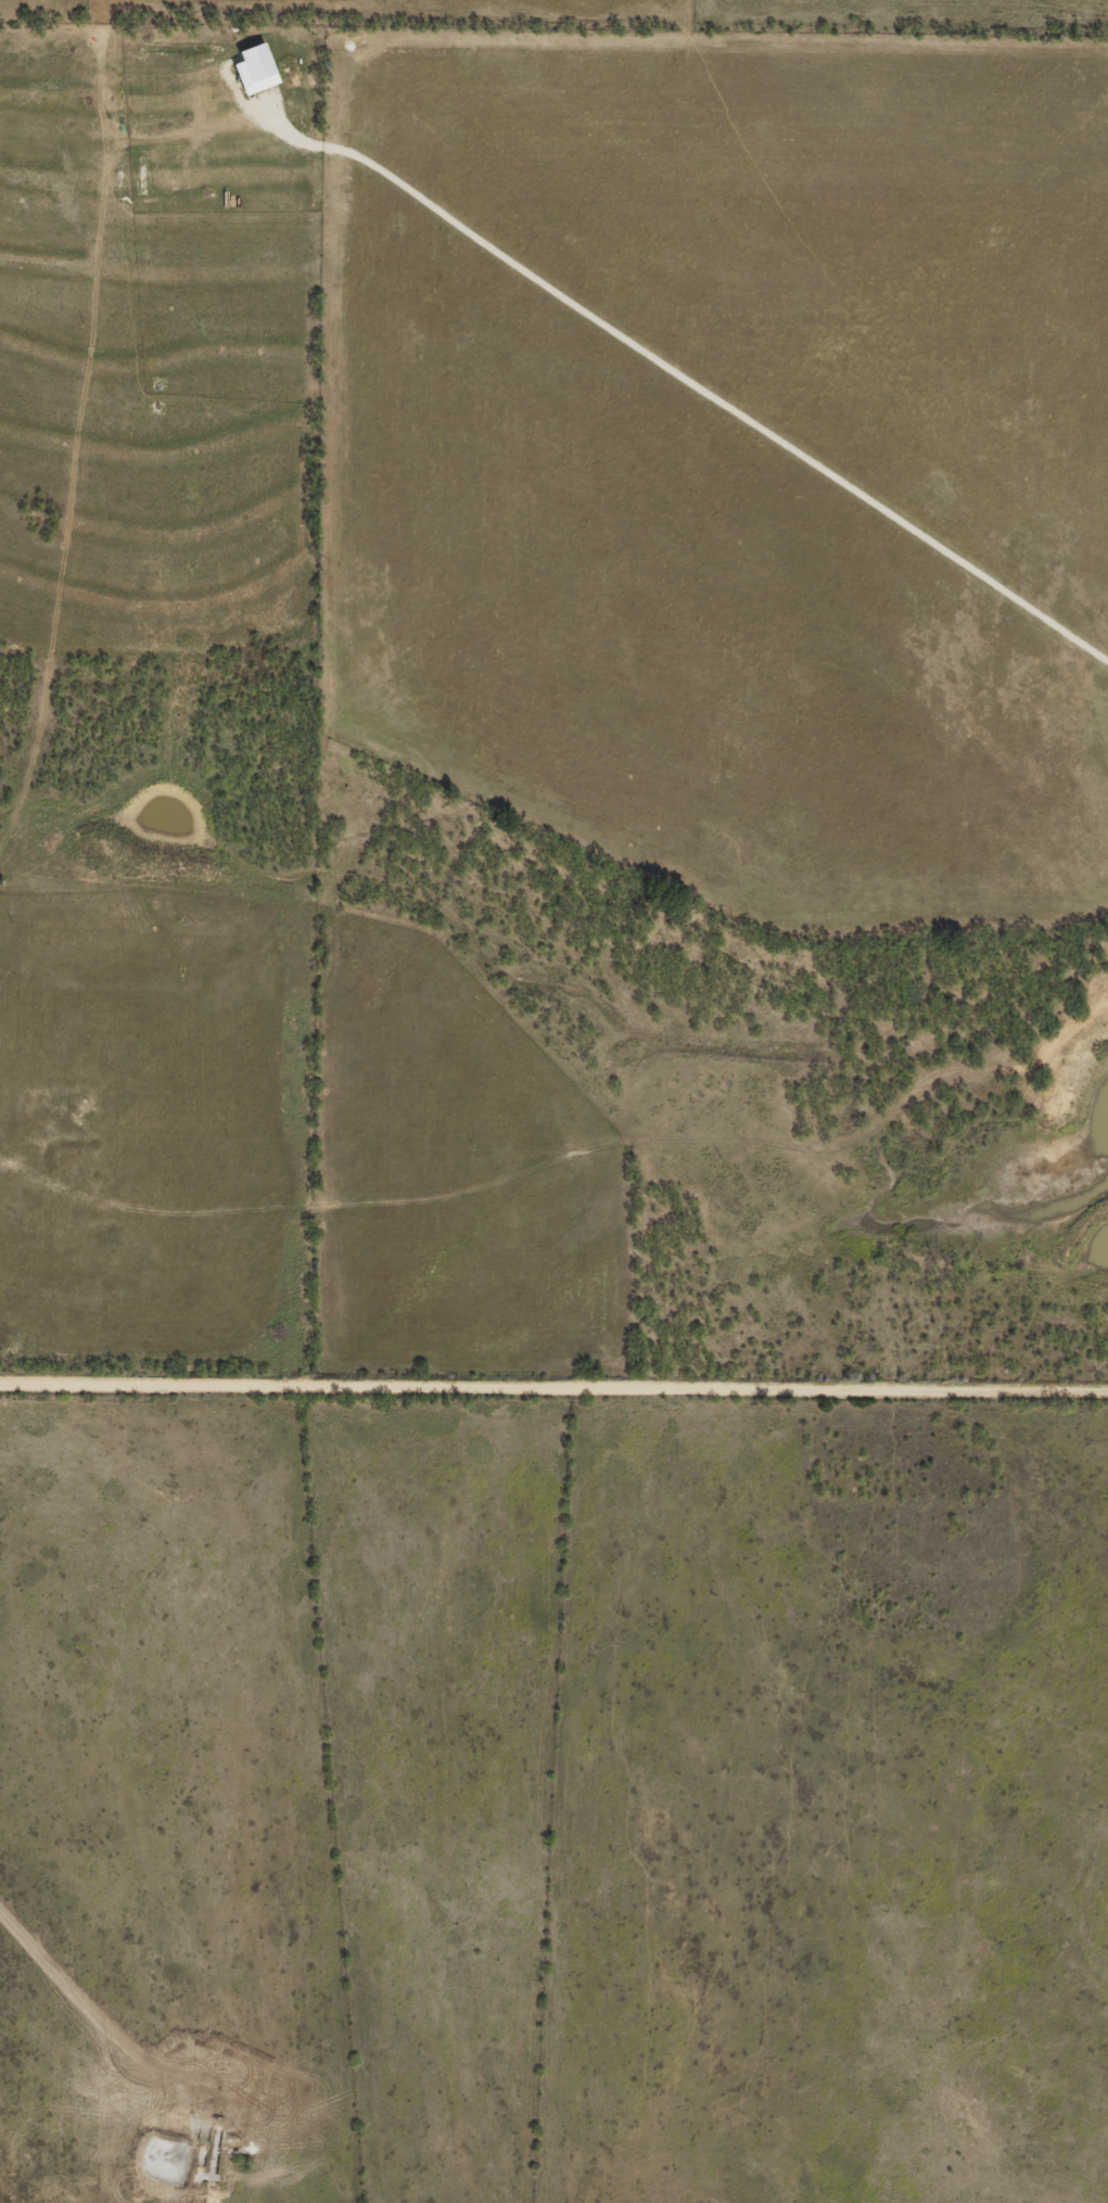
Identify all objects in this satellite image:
building: (260, 79)
road: (685, 387)
road: (553, 1396)

